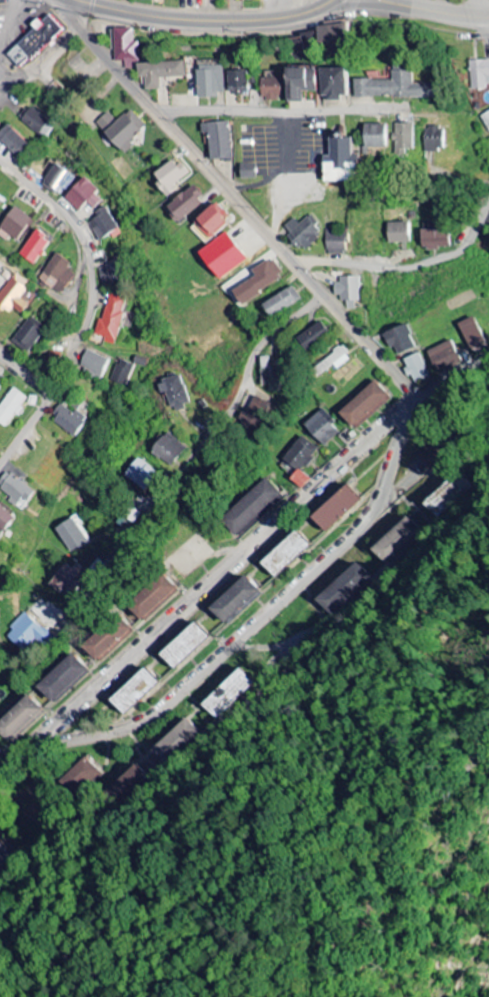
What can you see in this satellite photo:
road: (480, 11)
road: (432, 15)
road: (206, 20)
building: (39, 39)
building: (333, 41)
building: (303, 44)
building: (127, 48)
building: (160, 72)
building: (480, 74)
building: (211, 80)
building: (238, 82)
building: (299, 83)
building: (333, 83)
building: (393, 87)
building: (272, 88)
road: (276, 113)
building: (486, 119)
building: (38, 123)
building: (122, 129)
building: (375, 135)
building: (403, 137)
building: (435, 139)
building: (219, 140)
building: (14, 141)
building: (339, 161)
building: (248, 171)
building: (170, 178)
building: (59, 180)
building: (84, 195)
road: (238, 198)
building: (187, 202)
building: (213, 220)
building: (105, 223)
building: (15, 224)
building: (303, 232)
building: (397, 232)
building: (434, 239)
building: (335, 241)
building: (36, 247)
building: (223, 256)
road: (92, 267)
road: (407, 269)
building: (109, 273)
building: (58, 274)
building: (259, 281)
building: (348, 291)
building: (14, 295)
building: (282, 302)
building: (113, 318)
building: (472, 333)
building: (30, 334)
building: (313, 337)
building: (400, 339)
building: (445, 357)
building: (334, 361)
building: (95, 364)
building: (417, 368)
building: (123, 372)
road: (28, 374)
building: (271, 376)
building: (1, 377)
building: (175, 391)
building: (364, 405)
building: (12, 406)
building: (253, 416)
building: (71, 420)
building: (323, 428)
road: (25, 432)
road: (210, 436)
building: (170, 449)
building: (432, 457)
building: (301, 460)
building: (144, 475)
building: (471, 488)
building: (16, 489)
building: (252, 508)
building: (335, 508)
building: (5, 519)
building: (73, 535)
building: (397, 540)
building: (284, 554)
road: (238, 558)
building: (67, 579)
building: (342, 590)
building: (152, 598)
building: (236, 600)
road: (266, 616)
building: (29, 633)
building: (108, 639)
building: (183, 646)
building: (64, 679)
building: (133, 691)
building: (230, 693)
building: (22, 720)
building: (1, 751)
building: (82, 772)
building: (7, 857)

